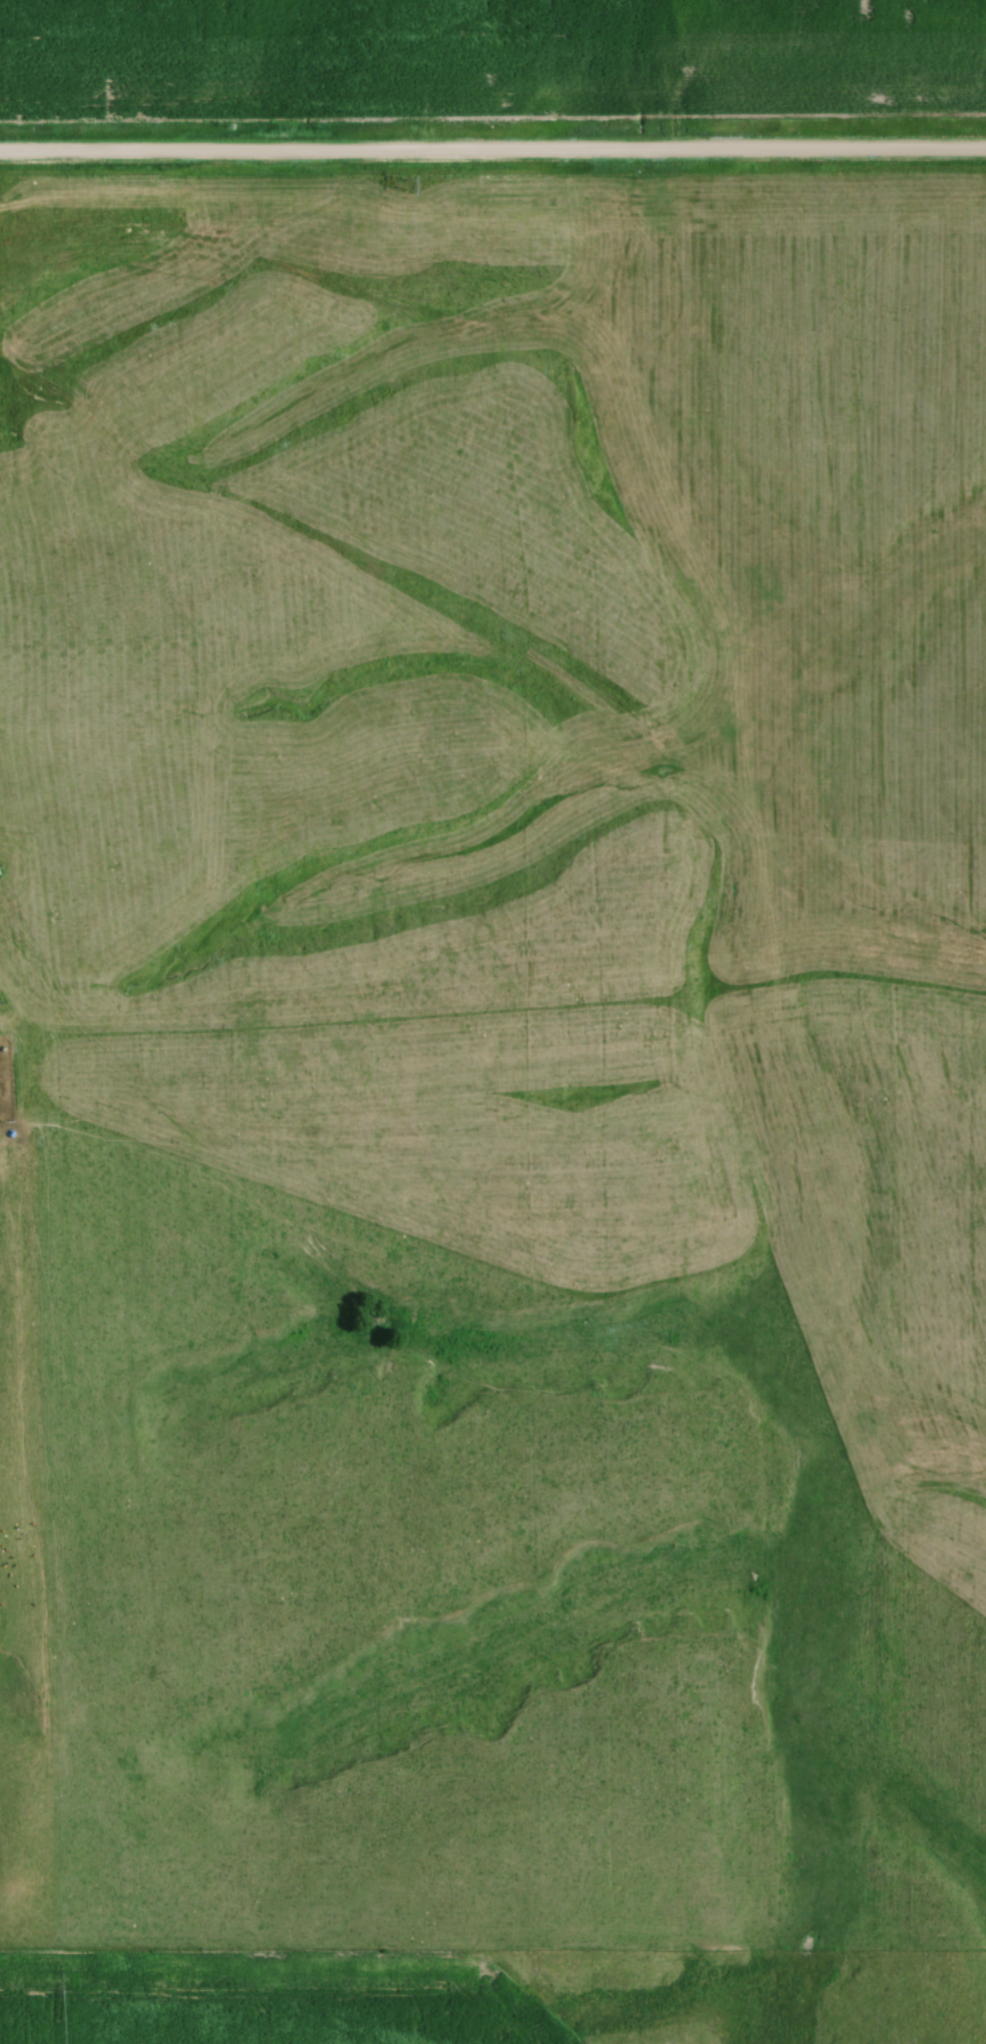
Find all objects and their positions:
road: (493, 154)
power tower: (406, 186)

